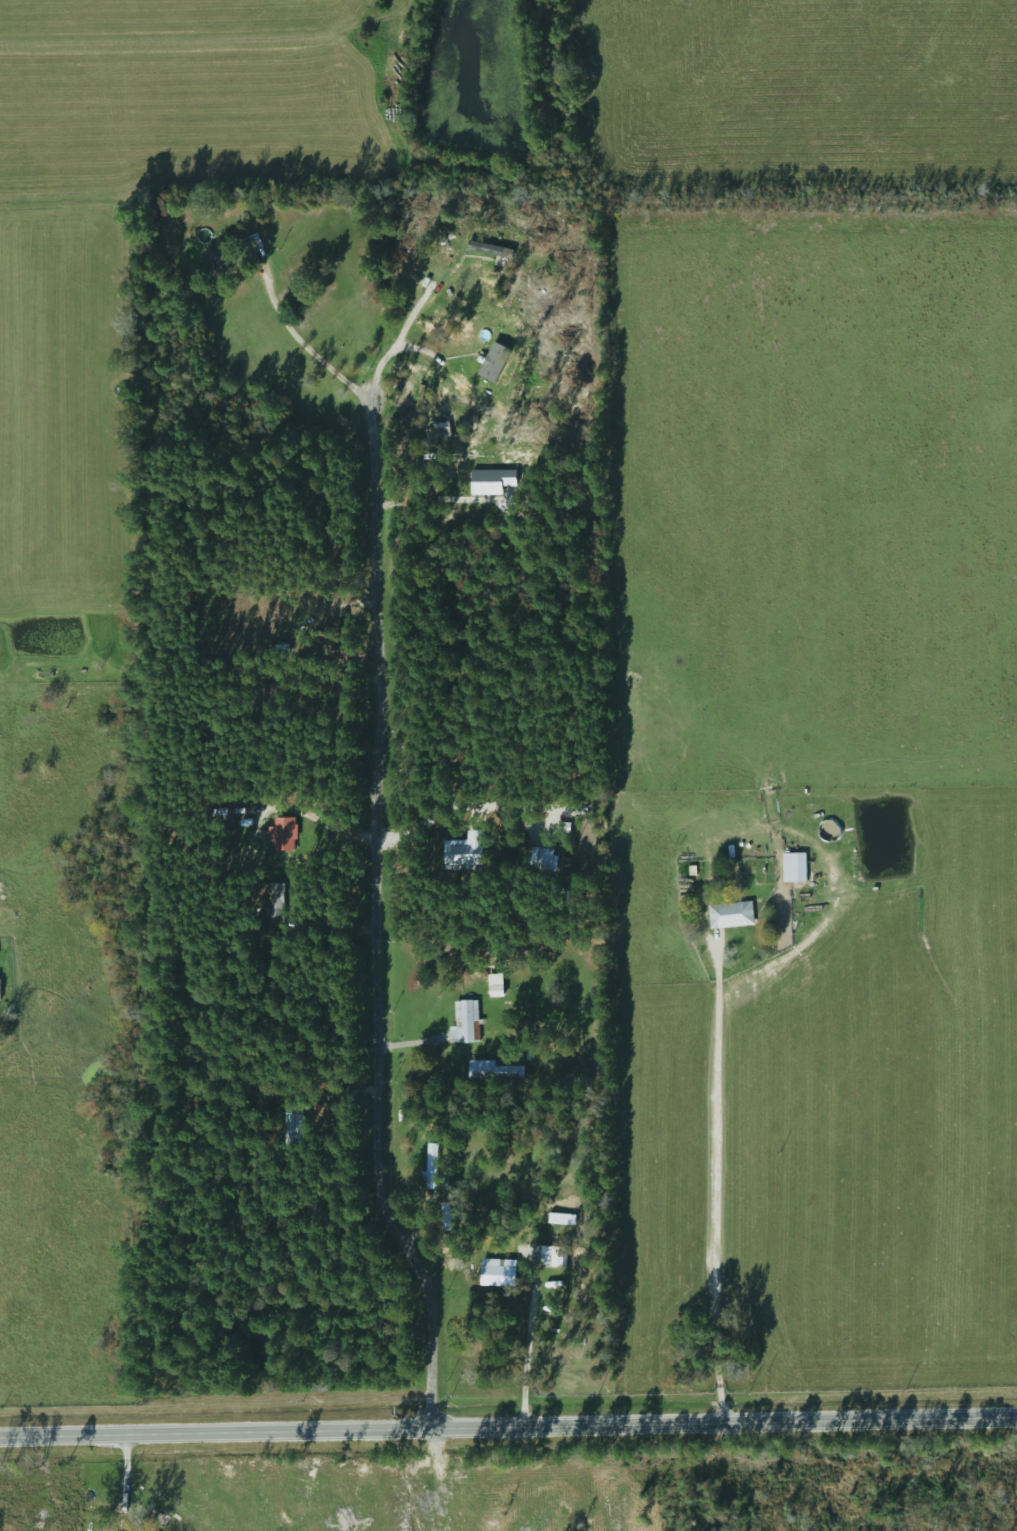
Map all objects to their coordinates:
building: (474, 238)
building: (252, 242)
building: (222, 257)
road: (302, 343)
building: (458, 346)
road: (403, 348)
road: (437, 502)
road: (453, 802)
road: (327, 826)
building: (794, 867)
building: (730, 914)
road: (376, 919)
building: (466, 1021)
building: (499, 1071)
building: (431, 1167)
road: (717, 1185)
building: (552, 1256)
road: (523, 1351)
road: (508, 1425)

